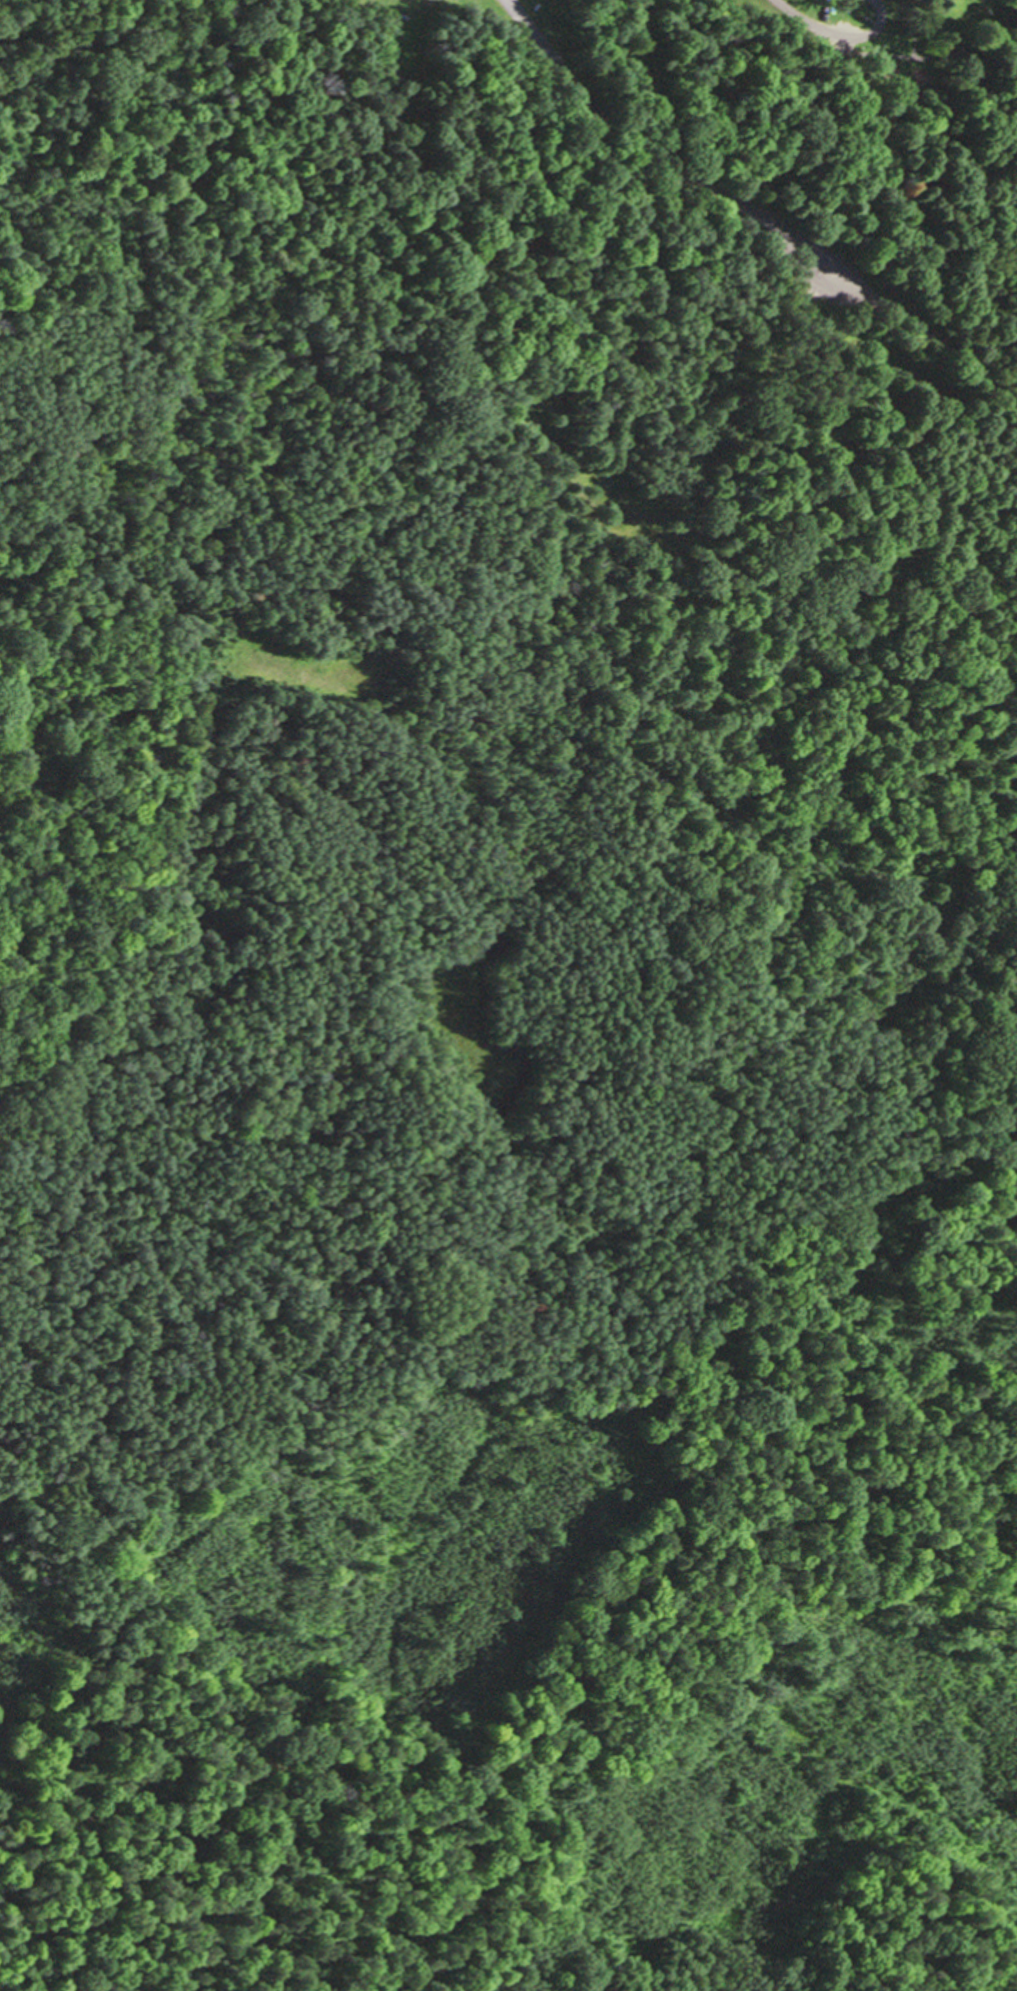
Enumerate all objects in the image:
road: (840, 33)
road: (158, 144)
road: (753, 215)
park: (510, 458)
road: (296, 1181)
road: (11, 1319)
road: (661, 1627)
road: (176, 1663)

